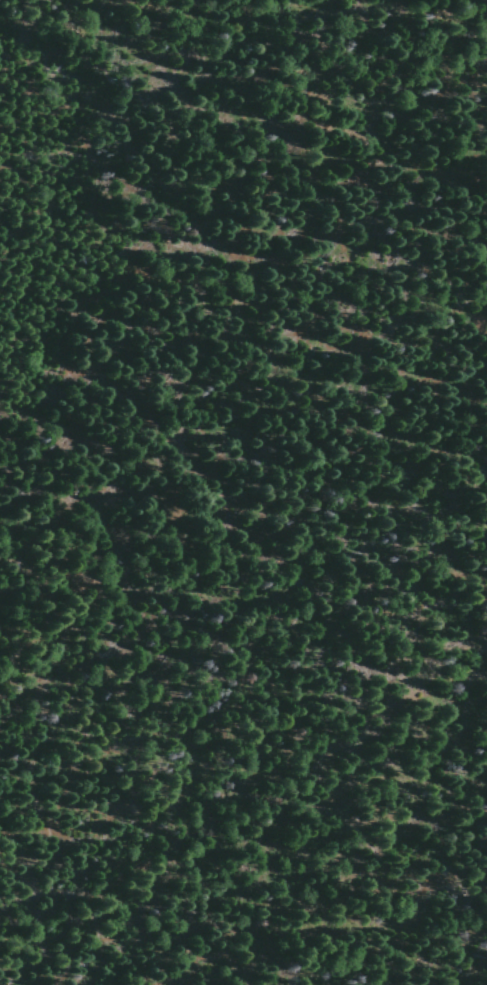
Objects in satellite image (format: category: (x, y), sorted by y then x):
road: (474, 43)
road: (371, 834)

